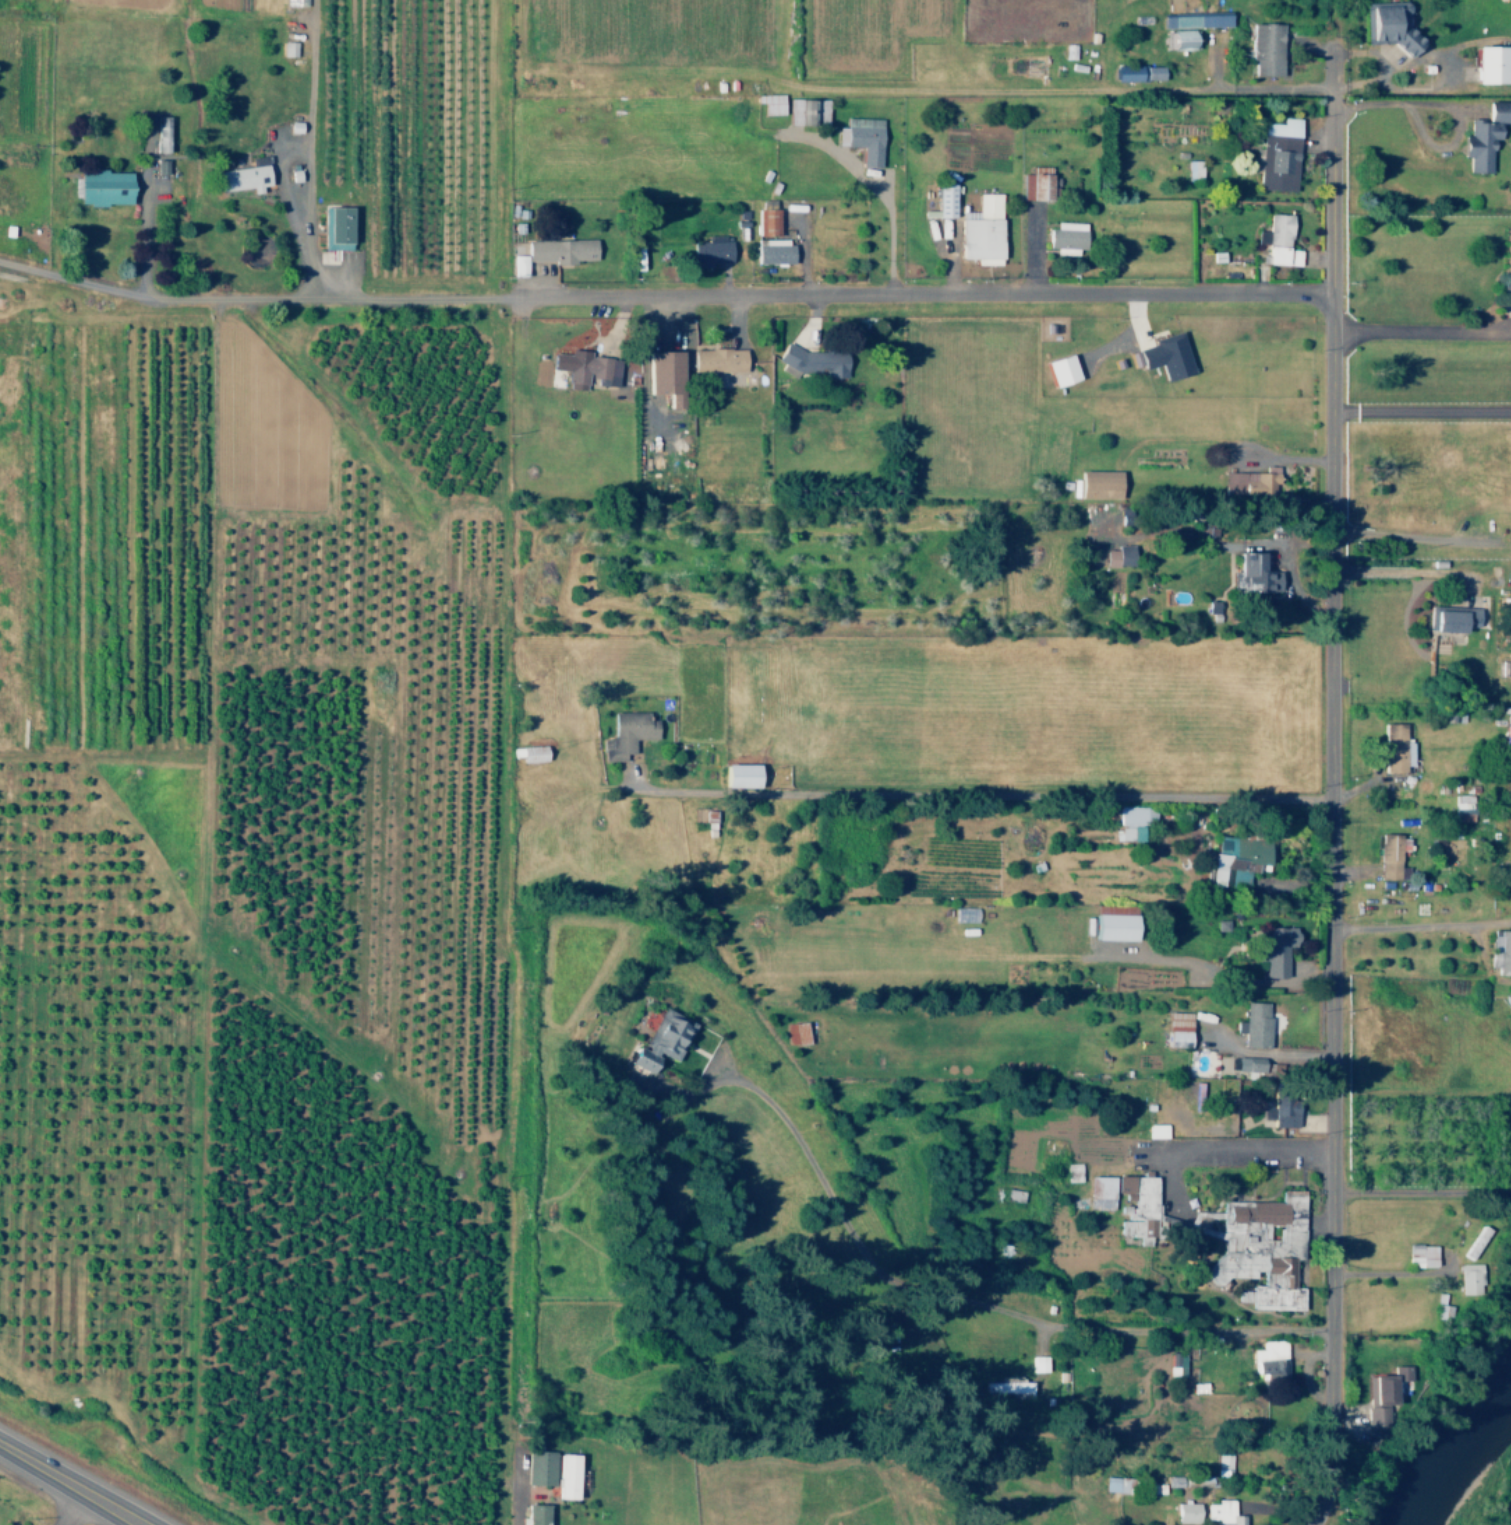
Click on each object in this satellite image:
building: (1191, 20)
building: (1382, 25)
building: (1179, 39)
building: (1262, 48)
building: (1488, 64)
building: (1135, 72)
road: (1233, 88)
building: (805, 111)
building: (157, 134)
building: (1482, 134)
building: (859, 138)
building: (1275, 155)
building: (1190, 169)
building: (239, 178)
building: (1032, 186)
building: (99, 187)
building: (940, 201)
building: (764, 221)
building: (331, 228)
building: (978, 230)
building: (1273, 231)
building: (1063, 237)
building: (556, 250)
building: (707, 251)
building: (770, 251)
building: (1279, 255)
building: (1506, 261)
building: (515, 265)
road: (920, 292)
road: (253, 297)
building: (1161, 355)
building: (715, 360)
building: (809, 360)
building: (581, 368)
building: (1057, 369)
building: (660, 375)
building: (1249, 480)
building: (1095, 484)
road: (1406, 536)
building: (1116, 556)
building: (1249, 574)
building: (1448, 618)
building: (1505, 729)
building: (623, 733)
building: (1392, 747)
building: (735, 775)
road: (1327, 790)
road: (977, 794)
building: (1460, 803)
building: (1129, 820)
building: (1389, 856)
building: (1231, 860)
building: (1109, 926)
road: (1420, 928)
building: (1269, 949)
building: (1499, 951)
building: (1252, 1024)
building: (1174, 1028)
building: (793, 1033)
building: (657, 1040)
building: (1245, 1063)
building: (1222, 1064)
building: (1279, 1112)
building: (1154, 1130)
building: (1094, 1193)
building: (1011, 1194)
building: (1136, 1205)
building: (1418, 1255)
building: (1465, 1278)
building: (1265, 1359)
building: (1035, 1363)
building: (1174, 1363)
building: (1006, 1386)
building: (1195, 1387)
building: (1378, 1396)
river: (1467, 1462)
building: (1222, 1464)
building: (536, 1467)
building: (563, 1476)
building: (1112, 1484)
road: (66, 1486)
road: (68, 1509)
building: (1184, 1512)
building: (1220, 1513)
building: (532, 1514)

